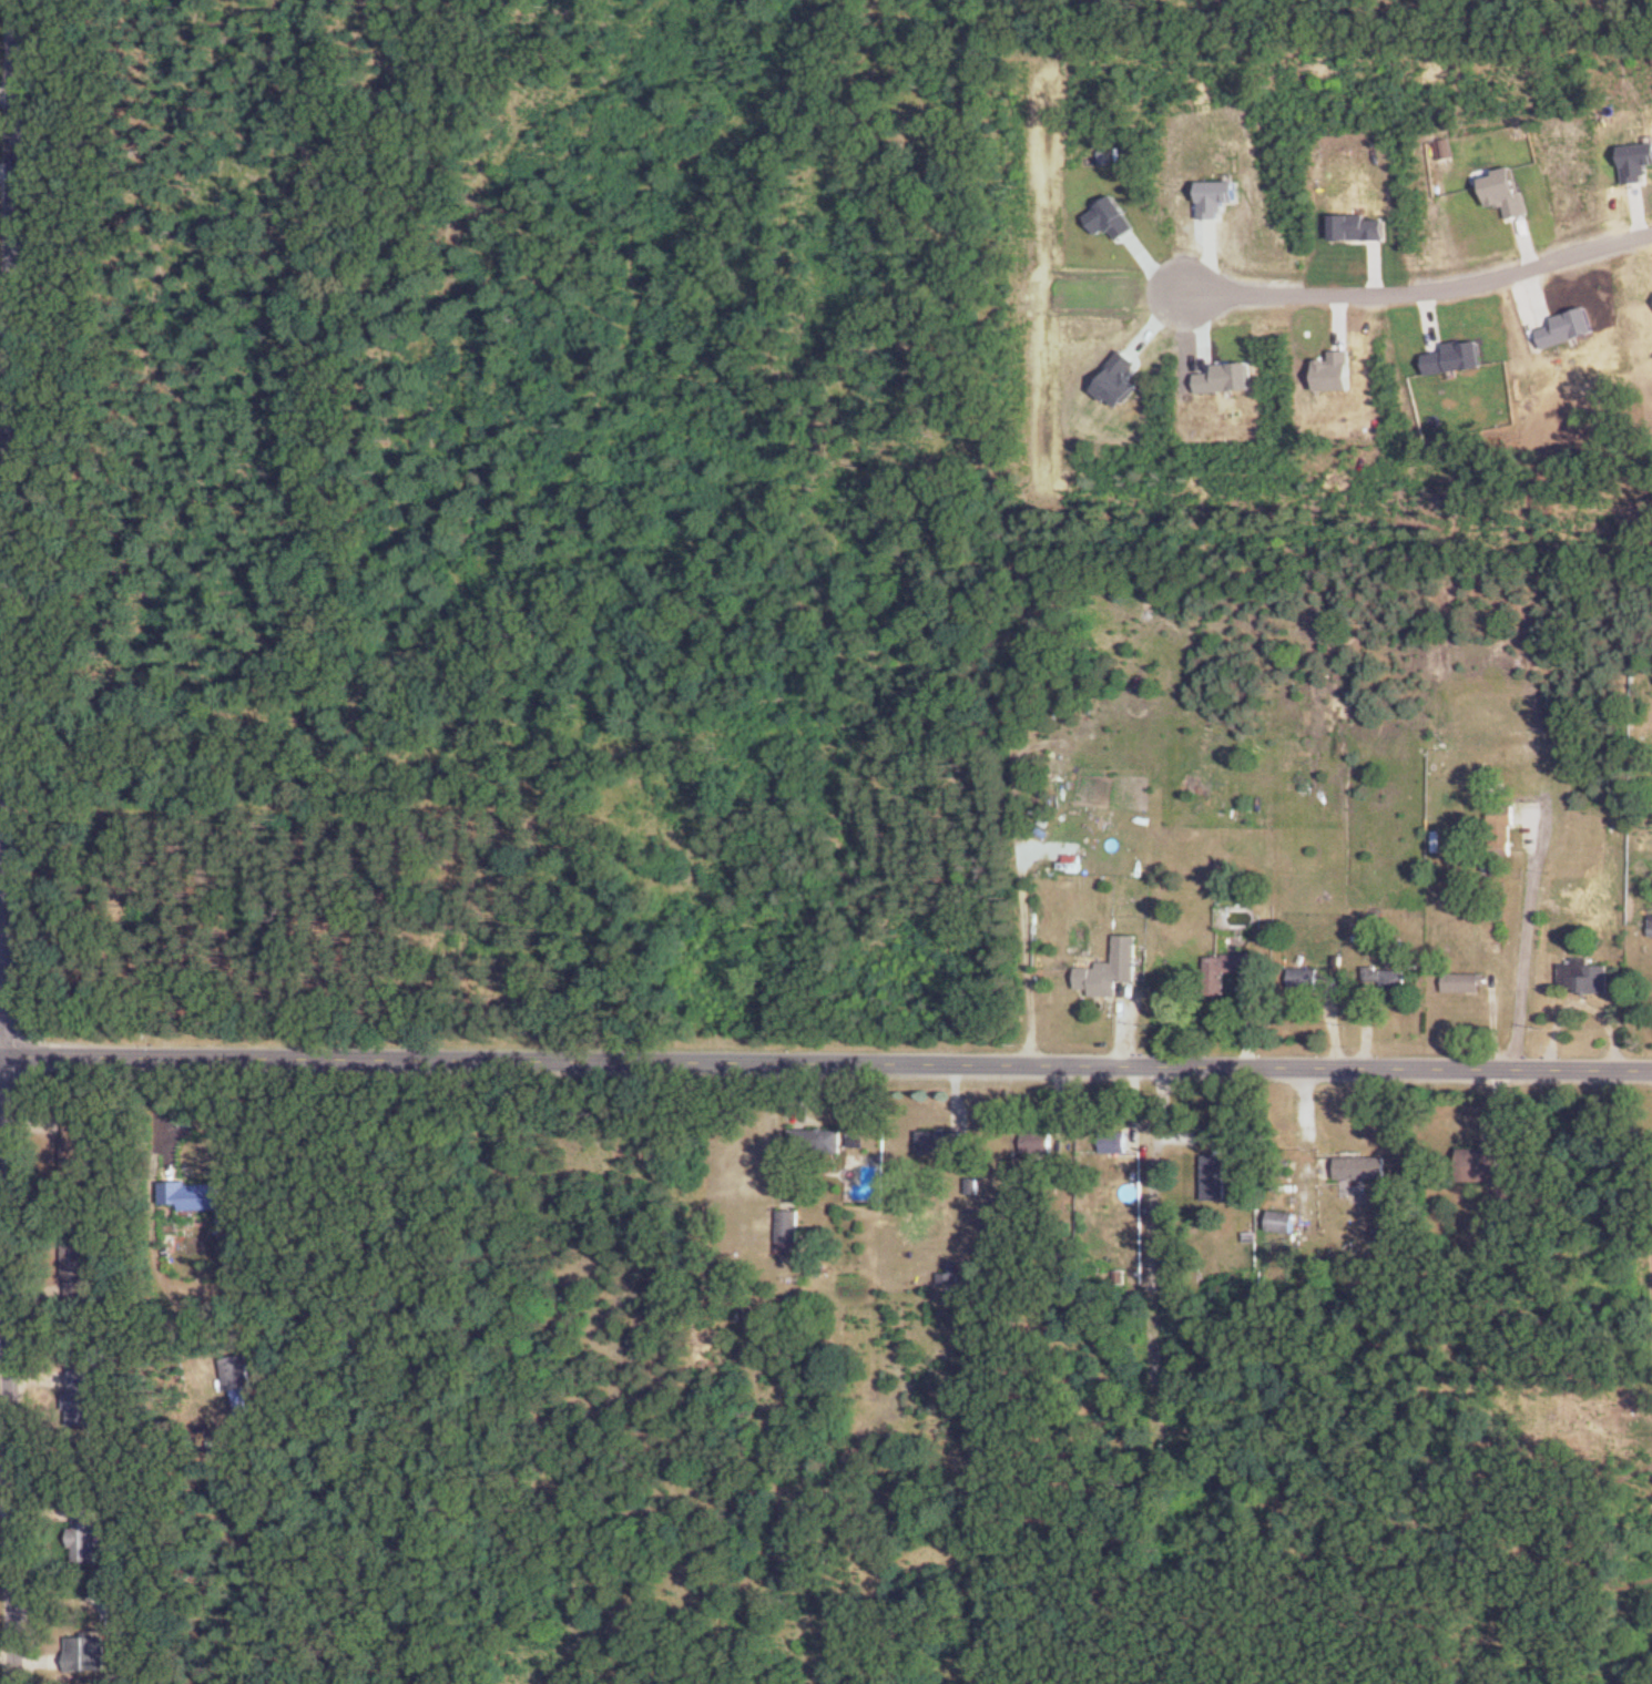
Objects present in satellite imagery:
road: (7, 24)
road: (3, 90)
road: (3, 169)
road: (1424, 285)
building: (1501, 827)
road: (7, 866)
building: (1651, 925)
road: (1527, 952)
building: (1226, 967)
building: (1110, 969)
building: (1583, 976)
building: (1304, 978)
building: (1387, 978)
building: (1464, 982)
road: (826, 1063)
building: (818, 1141)
building: (1114, 1141)
building: (941, 1142)
building: (1039, 1142)
building: (77, 1144)
building: (1485, 1163)
building: (1362, 1167)
building: (1215, 1176)
building: (193, 1196)
building: (1282, 1221)
building: (789, 1226)
road: (1154, 1236)
building: (78, 1272)
building: (950, 1276)
building: (238, 1372)
building: (80, 1397)
building: (85, 1533)
building: (86, 1654)

